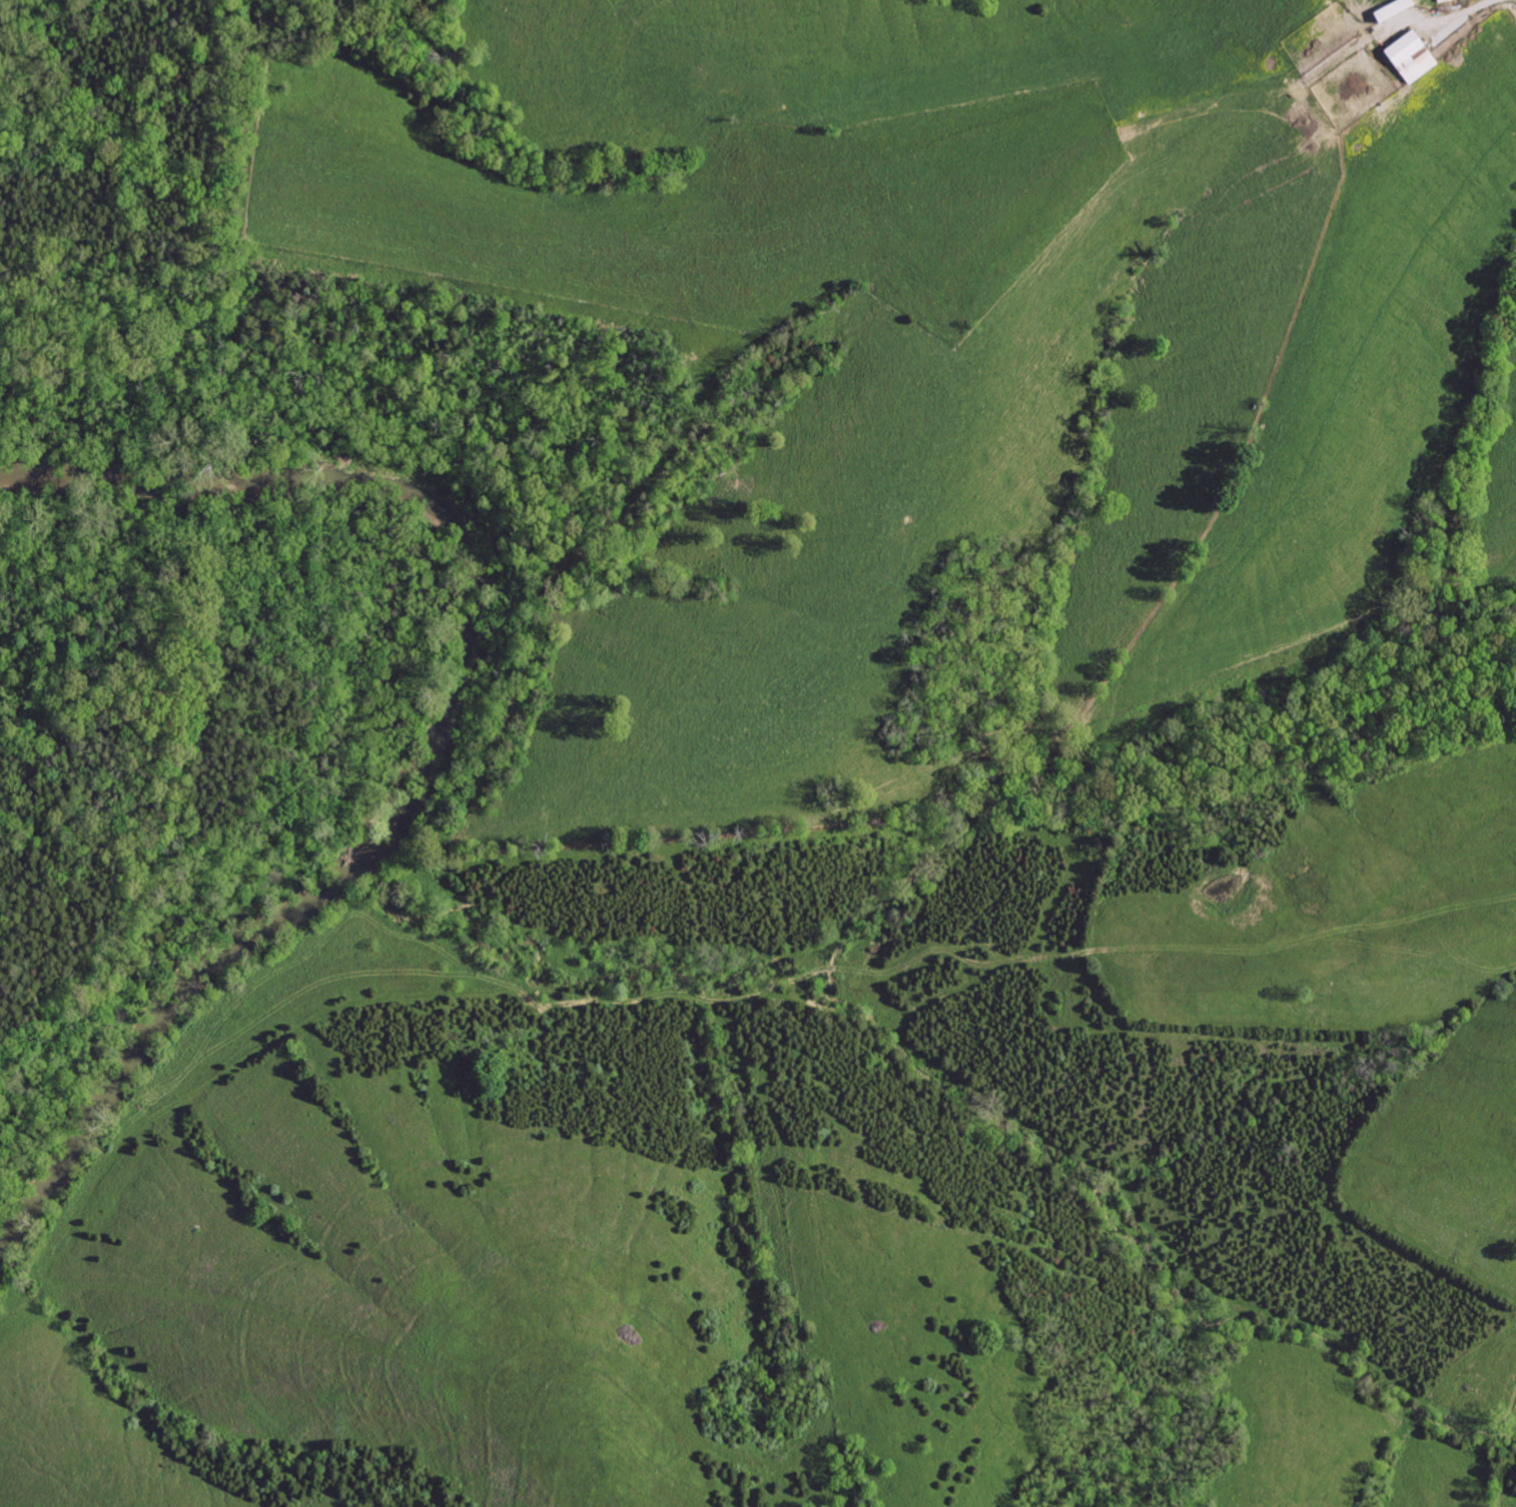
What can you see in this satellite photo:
building: (1406, 57)

